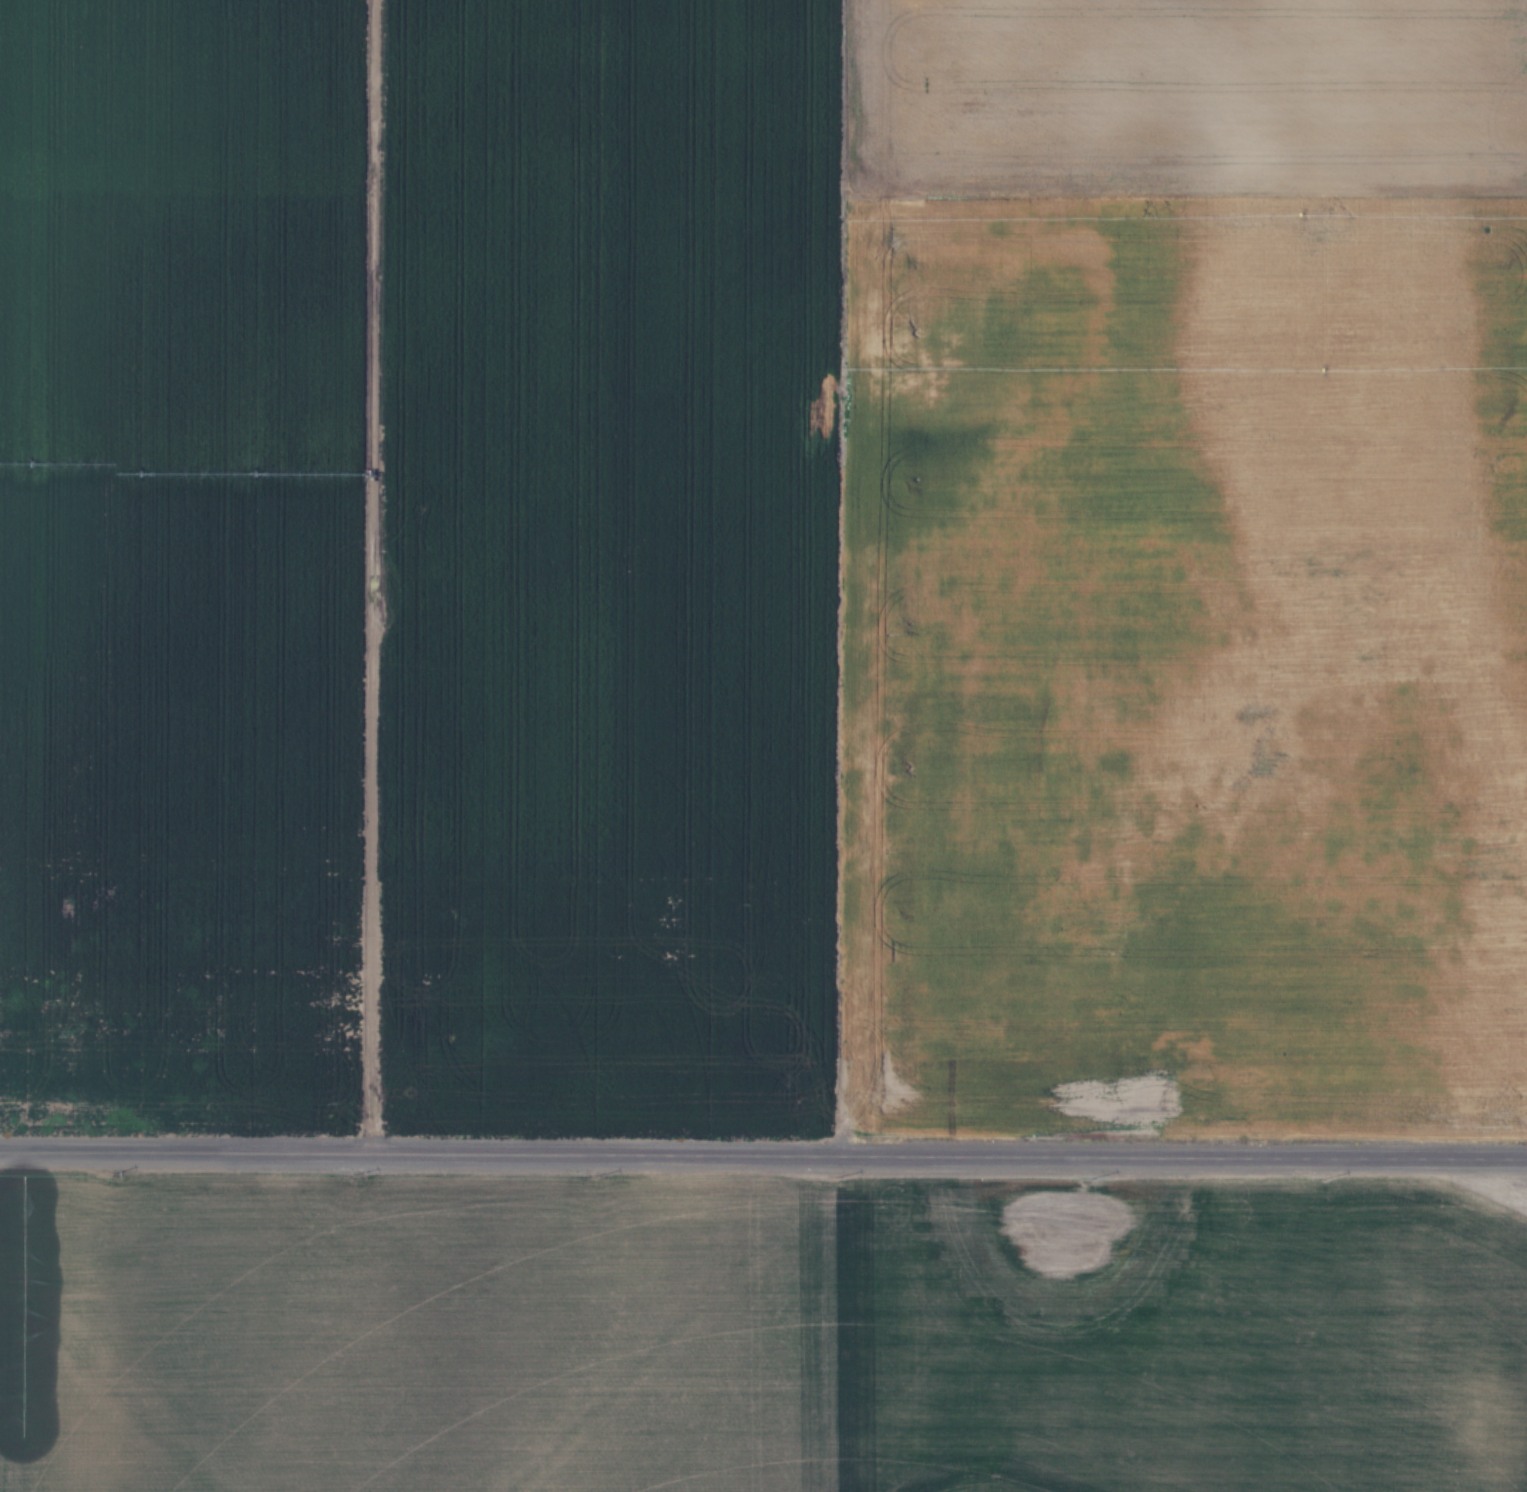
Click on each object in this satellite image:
road: (763, 1158)

